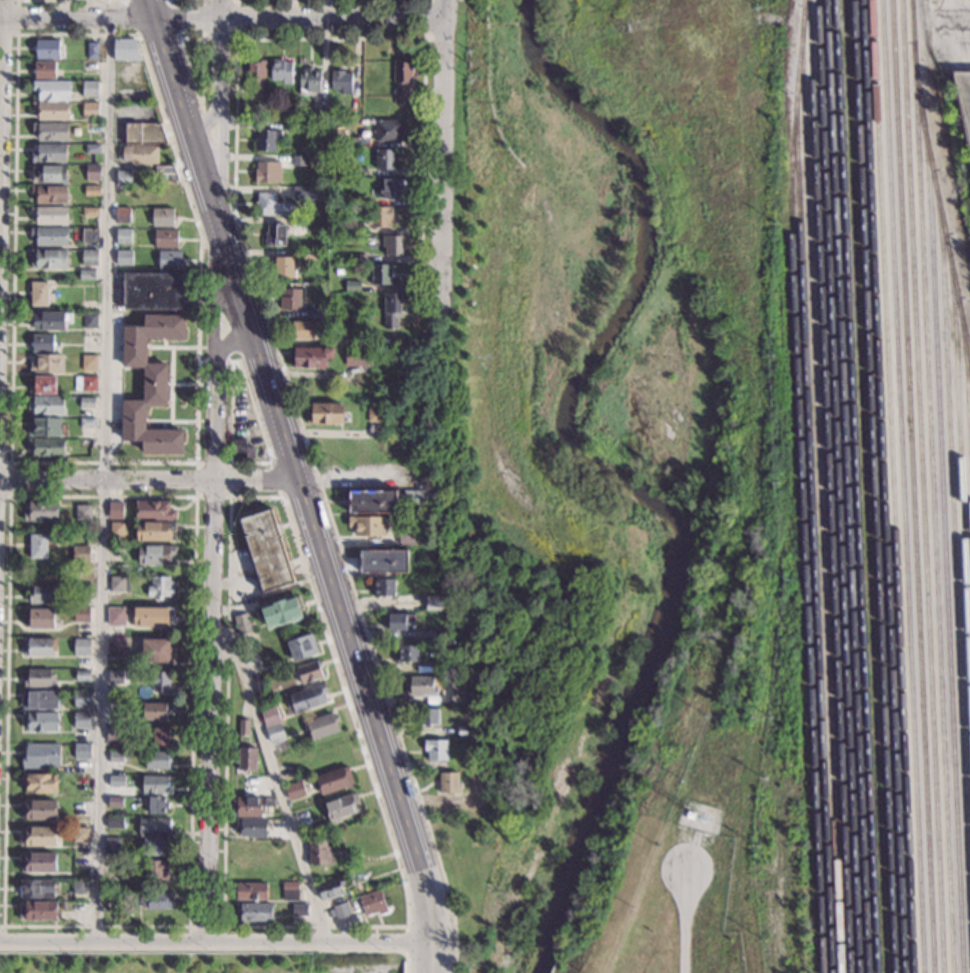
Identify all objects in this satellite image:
road: (69, 0)
road: (0, 9)
road: (221, 9)
road: (331, 9)
road: (16, 17)
road: (110, 18)
road: (425, 18)
road: (332, 19)
road: (967, 20)
road: (158, 36)
road: (220, 38)
building: (47, 49)
building: (92, 50)
building: (125, 50)
building: (43, 70)
building: (372, 70)
building: (280, 71)
building: (255, 76)
building: (308, 81)
building: (401, 81)
building: (340, 82)
building: (51, 89)
building: (92, 89)
road: (197, 97)
building: (963, 105)
building: (347, 107)
building: (366, 109)
building: (49, 110)
building: (89, 110)
building: (317, 112)
building: (286, 114)
road: (206, 123)
building: (92, 128)
building: (296, 128)
building: (388, 130)
building: (50, 131)
building: (143, 133)
building: (265, 140)
building: (360, 142)
building: (92, 149)
building: (49, 153)
building: (140, 154)
road: (442, 156)
building: (383, 159)
building: (299, 161)
building: (267, 171)
building: (358, 171)
building: (92, 172)
building: (164, 172)
building: (48, 174)
building: (123, 178)
building: (390, 187)
building: (90, 191)
building: (307, 193)
building: (50, 194)
building: (120, 194)
building: (164, 195)
building: (356, 200)
railway: (938, 202)
building: (270, 205)
building: (89, 212)
building: (121, 215)
building: (51, 216)
building: (162, 217)
building: (379, 217)
building: (297, 227)
building: (354, 227)
building: (89, 235)
building: (274, 235)
building: (123, 236)
building: (51, 237)
building: (165, 238)
building: (391, 244)
road: (224, 255)
building: (309, 255)
building: (88, 257)
building: (356, 257)
building: (123, 258)
building: (49, 259)
building: (168, 260)
building: (284, 267)
building: (86, 274)
building: (379, 274)
road: (256, 275)
building: (351, 286)
building: (152, 291)
building: (38, 293)
building: (290, 299)
building: (87, 305)
building: (390, 310)
building: (313, 313)
building: (49, 320)
building: (89, 320)
building: (303, 330)
road: (422, 334)
building: (87, 339)
building: (346, 340)
building: (379, 341)
road: (229, 342)
building: (42, 343)
road: (163, 343)
road: (171, 347)
building: (309, 358)
building: (357, 358)
building: (88, 362)
building: (47, 363)
road: (230, 371)
railway: (966, 374)
building: (84, 383)
building: (43, 384)
road: (171, 384)
road: (181, 384)
building: (149, 385)
building: (87, 403)
building: (45, 406)
building: (420, 408)
building: (324, 413)
building: (374, 413)
road: (170, 421)
building: (86, 423)
road: (162, 426)
building: (44, 427)
park: (594, 430)
road: (282, 435)
building: (87, 444)
building: (46, 448)
building: (241, 450)
road: (47, 462)
river: (599, 473)
road: (366, 476)
railway: (959, 477)
road: (10, 478)
road: (103, 479)
road: (275, 479)
road: (213, 480)
road: (149, 481)
railway: (800, 486)
railway: (828, 486)
railway: (836, 486)
railway: (846, 486)
railway: (855, 486)
railway: (872, 486)
railway: (882, 486)
railway: (892, 486)
railway: (902, 486)
railway: (912, 486)
railway: (921, 486)
railway: (932, 486)
railway: (818, 489)
road: (193, 496)
road: (228, 497)
building: (420, 499)
building: (372, 501)
building: (115, 510)
building: (41, 511)
building: (153, 511)
building: (81, 512)
building: (366, 525)
building: (116, 529)
building: (154, 531)
railway: (812, 534)
building: (81, 535)
building: (407, 535)
railway: (954, 535)
railway: (944, 539)
building: (38, 546)
building: (265, 551)
road: (228, 553)
building: (80, 554)
building: (155, 554)
building: (384, 561)
building: (39, 573)
building: (118, 584)
building: (160, 587)
building: (385, 587)
building: (84, 591)
building: (43, 594)
building: (433, 602)
building: (280, 612)
building: (80, 614)
building: (114, 616)
building: (151, 616)
building: (40, 618)
building: (399, 620)
building: (243, 624)
building: (38, 647)
building: (81, 647)
building: (115, 648)
building: (301, 648)
building: (155, 651)
building: (408, 653)
building: (445, 665)
building: (309, 672)
building: (82, 677)
building: (117, 677)
building: (38, 679)
building: (160, 682)
building: (420, 686)
building: (81, 698)
building: (306, 698)
building: (457, 698)
building: (40, 700)
building: (116, 709)
building: (154, 712)
building: (428, 715)
building: (269, 717)
building: (81, 720)
building: (41, 722)
building: (242, 727)
building: (321, 727)
building: (464, 731)
building: (112, 734)
building: (275, 734)
building: (160, 736)
building: (435, 749)
building: (81, 752)
building: (326, 755)
building: (41, 756)
building: (115, 757)
building: (246, 758)
building: (155, 760)
building: (467, 760)
building: (284, 761)
road: (274, 776)
building: (116, 781)
building: (334, 781)
building: (448, 782)
building: (39, 783)
building: (81, 784)
building: (154, 785)
building: (295, 790)
building: (114, 801)
building: (268, 803)
building: (156, 805)
building: (342, 806)
building: (245, 808)
building: (81, 809)
building: (39, 810)
building: (690, 814)
building: (114, 823)
building: (153, 827)
building: (250, 828)
building: (81, 835)
building: (38, 836)
building: (111, 845)
building: (156, 847)
building: (246, 852)
building: (319, 853)
building: (38, 863)
building: (114, 865)
building: (152, 870)
building: (287, 875)
building: (79, 886)
building: (330, 888)
building: (36, 889)
building: (289, 891)
building: (251, 892)
building: (112, 900)
building: (156, 901)
building: (372, 903)
road: (427, 906)
building: (71, 907)
building: (299, 908)
building: (37, 911)
building: (342, 911)
building: (254, 912)
road: (683, 922)
road: (1, 926)
road: (204, 926)
road: (406, 941)
road: (214, 943)
road: (429, 950)
park: (200, 960)
road: (405, 964)
road: (428, 965)
road: (454, 966)

